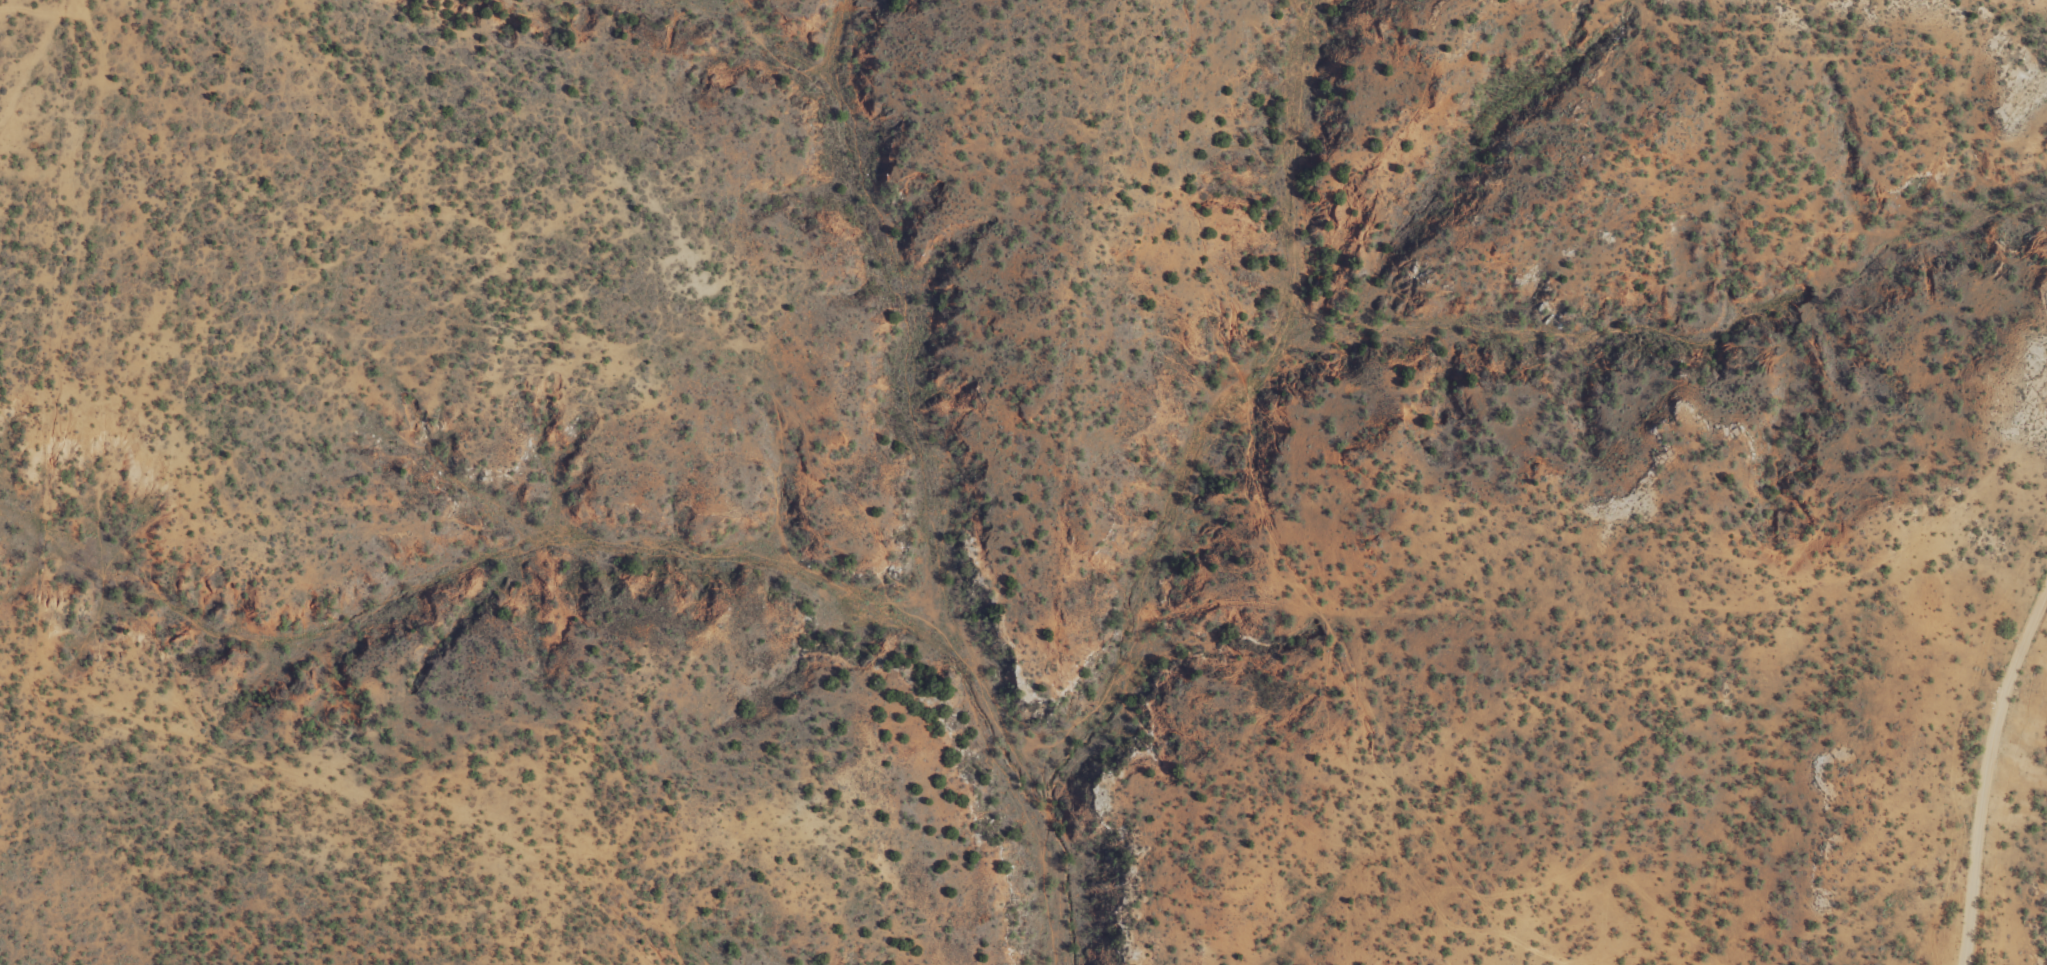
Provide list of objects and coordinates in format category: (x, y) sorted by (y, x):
road: (1994, 802)

